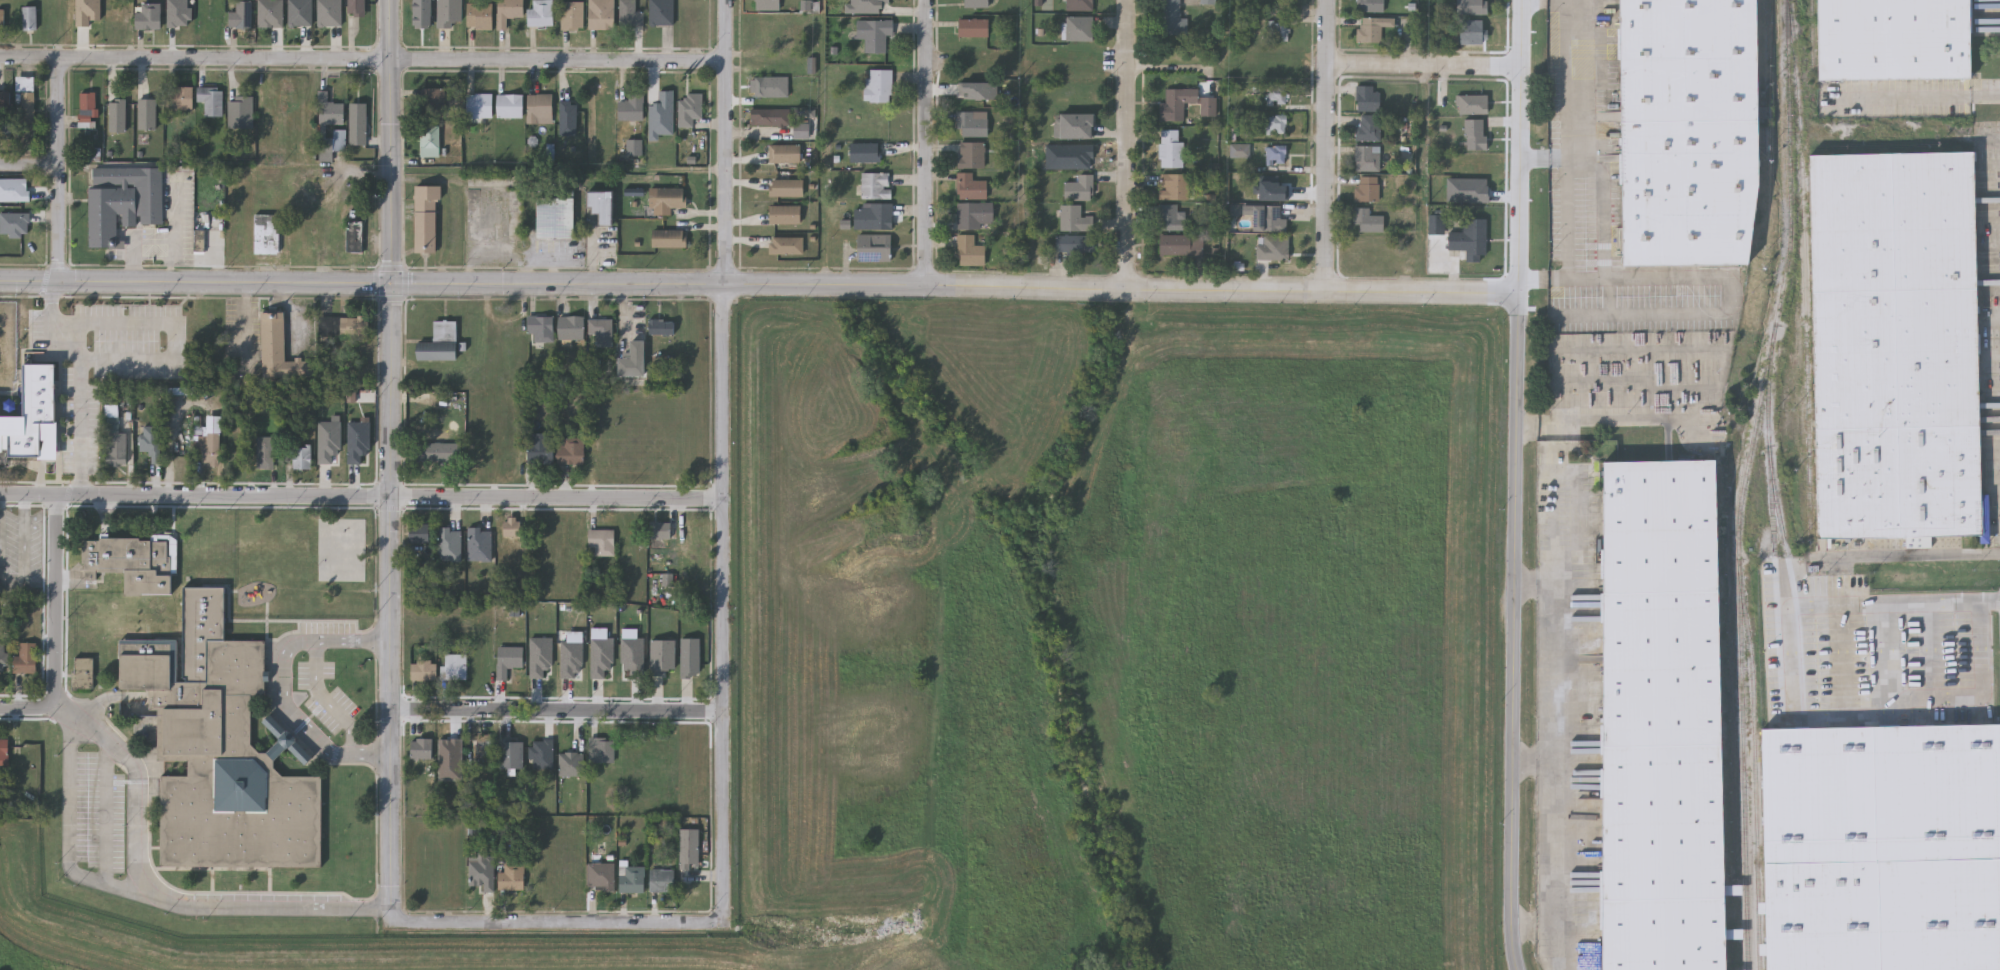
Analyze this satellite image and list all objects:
building: (1208, 1)
road: (1575, 1)
building: (975, 3)
building: (767, 4)
building: (1078, 5)
building: (1370, 5)
building: (1469, 6)
building: (357, 8)
building: (505, 11)
building: (660, 11)
building: (301, 12)
building: (329, 12)
building: (271, 13)
building: (538, 13)
building: (570, 14)
building: (599, 14)
building: (241, 15)
building: (476, 15)
building: (148, 16)
building: (29, 18)
building: (1170, 18)
building: (972, 27)
road: (1128, 27)
building: (1372, 27)
building: (1078, 28)
building: (770, 30)
building: (1278, 31)
building: (1471, 31)
building: (874, 33)
road: (1328, 33)
building: (1892, 39)
railway: (1812, 46)
road: (1574, 52)
road: (363, 58)
road: (1422, 67)
building: (878, 85)
building: (769, 86)
building: (1276, 93)
road: (1985, 94)
road: (1896, 96)
building: (27, 99)
building: (180, 99)
building: (211, 101)
building: (433, 102)
building: (1175, 103)
building: (1471, 104)
building: (5, 105)
building: (478, 106)
building: (506, 107)
building: (628, 108)
building: (536, 109)
building: (686, 110)
building: (87, 111)
building: (331, 111)
building: (241, 112)
building: (147, 115)
building: (118, 116)
building: (769, 116)
building: (564, 119)
building: (1276, 123)
building: (969, 124)
building: (359, 125)
building: (1074, 125)
building: (1368, 127)
building: (800, 128)
building: (1687, 131)
building: (1474, 133)
road: (392, 141)
building: (430, 141)
road: (926, 141)
road: (1517, 145)
building: (632, 147)
building: (1170, 147)
building: (1239, 149)
building: (863, 152)
building: (783, 153)
building: (326, 154)
building: (970, 154)
building: (1275, 154)
building: (1367, 157)
road: (28, 164)
road: (57, 169)
road: (1128, 170)
road: (1327, 177)
building: (875, 185)
building: (1172, 185)
building: (1275, 185)
building: (21, 186)
building: (785, 186)
building: (969, 186)
building: (1078, 188)
building: (1367, 188)
road: (1571, 193)
building: (123, 200)
building: (662, 200)
building: (601, 207)
road: (1605, 208)
building: (783, 213)
building: (974, 214)
building: (872, 216)
building: (1074, 217)
building: (1169, 217)
building: (1266, 217)
building: (427, 218)
building: (555, 218)
building: (1367, 220)
building: (1435, 224)
building: (355, 232)
building: (267, 234)
building: (666, 239)
building: (1469, 239)
building: (1073, 243)
building: (785, 244)
building: (1180, 244)
building: (872, 246)
building: (1272, 246)
building: (969, 251)
railway: (1803, 274)
road: (1712, 279)
road: (758, 283)
road: (1607, 298)
road: (174, 325)
building: (658, 326)
building: (355, 327)
building: (538, 328)
building: (568, 328)
building: (598, 333)
building: (439, 342)
building: (1894, 345)
building: (279, 349)
building: (629, 360)
road: (82, 378)
building: (33, 417)
parking lot: (43, 437)
building: (152, 442)
building: (210, 447)
building: (117, 448)
building: (536, 451)
building: (568, 451)
building: (265, 452)
building: (439, 453)
building: (302, 457)
road: (723, 461)
railway: (1744, 483)
road: (361, 497)
road: (0, 507)
building: (511, 527)
railway: (1773, 527)
building: (657, 531)
building: (419, 532)
building: (597, 542)
building: (448, 544)
building: (479, 545)
road: (1553, 547)
road: (26, 549)
parking lot: (21, 551)
road: (1924, 554)
building: (132, 563)
building: (665, 581)
railway: (1792, 581)
road: (57, 601)
road: (1889, 601)
road: (393, 603)
road: (1514, 631)
road: (1931, 651)
road: (1840, 653)
building: (1, 657)
building: (26, 658)
building: (508, 661)
building: (455, 668)
building: (427, 671)
road: (1553, 671)
building: (82, 673)
road: (284, 685)
parking lot: (326, 694)
road: (326, 699)
road: (1984, 700)
road: (28, 708)
road: (559, 712)
building: (1661, 715)
building: (221, 749)
building: (421, 750)
building: (600, 751)
building: (4, 752)
building: (450, 753)
building: (511, 756)
building: (570, 765)
railway: (1755, 773)
road: (72, 786)
road: (140, 797)
parking lot: (101, 813)
road: (106, 815)
road: (1553, 841)
building: (1882, 847)
building: (480, 872)
building: (511, 877)
building: (600, 877)
building: (662, 877)
building: (632, 879)
road: (229, 903)
road: (558, 923)

